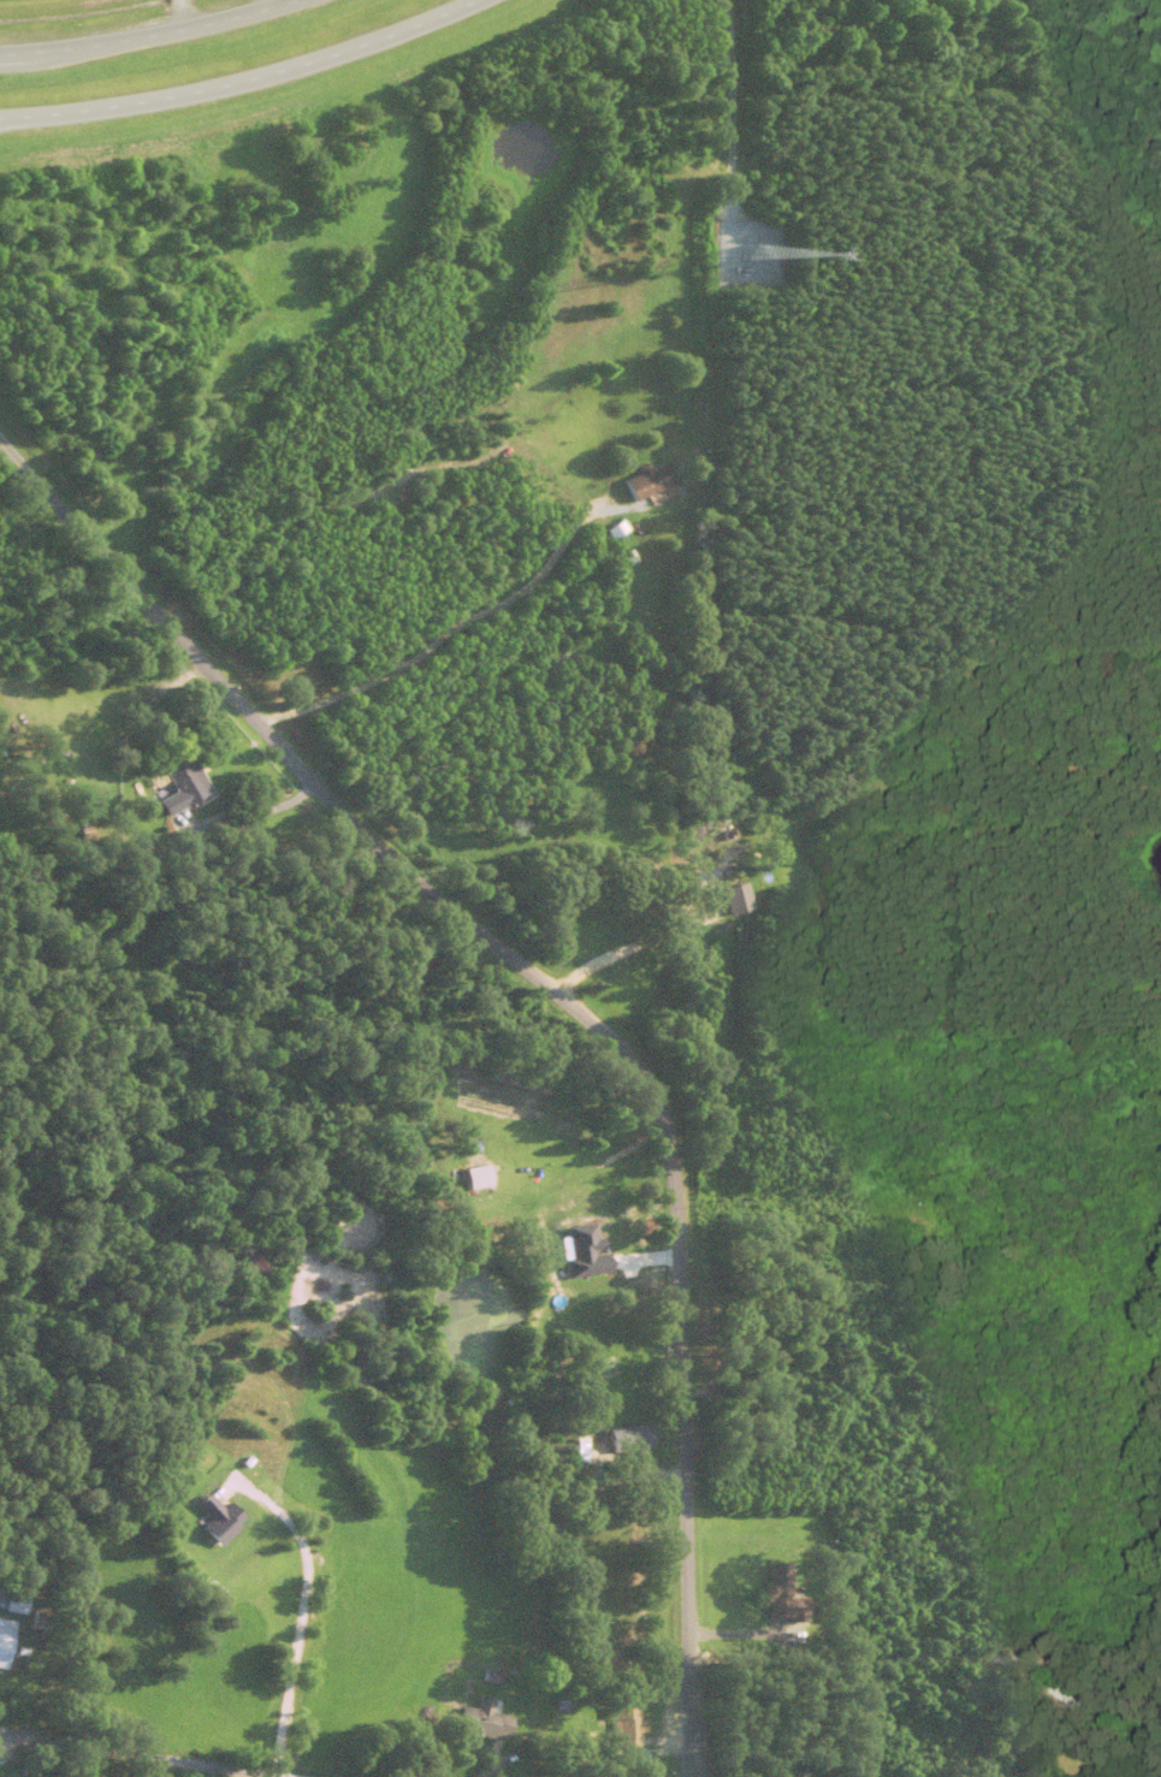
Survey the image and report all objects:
road: (150, 36)
road: (239, 79)
building: (642, 481)
building: (612, 531)
building: (177, 786)
building: (733, 900)
road: (574, 1007)
building: (248, 1260)
building: (171, 1373)
building: (621, 1439)
building: (208, 1521)
building: (771, 1588)
road: (301, 1612)
building: (2, 1640)
road: (845, 1655)
building: (479, 1723)
building: (617, 1728)
road: (136, 1755)

